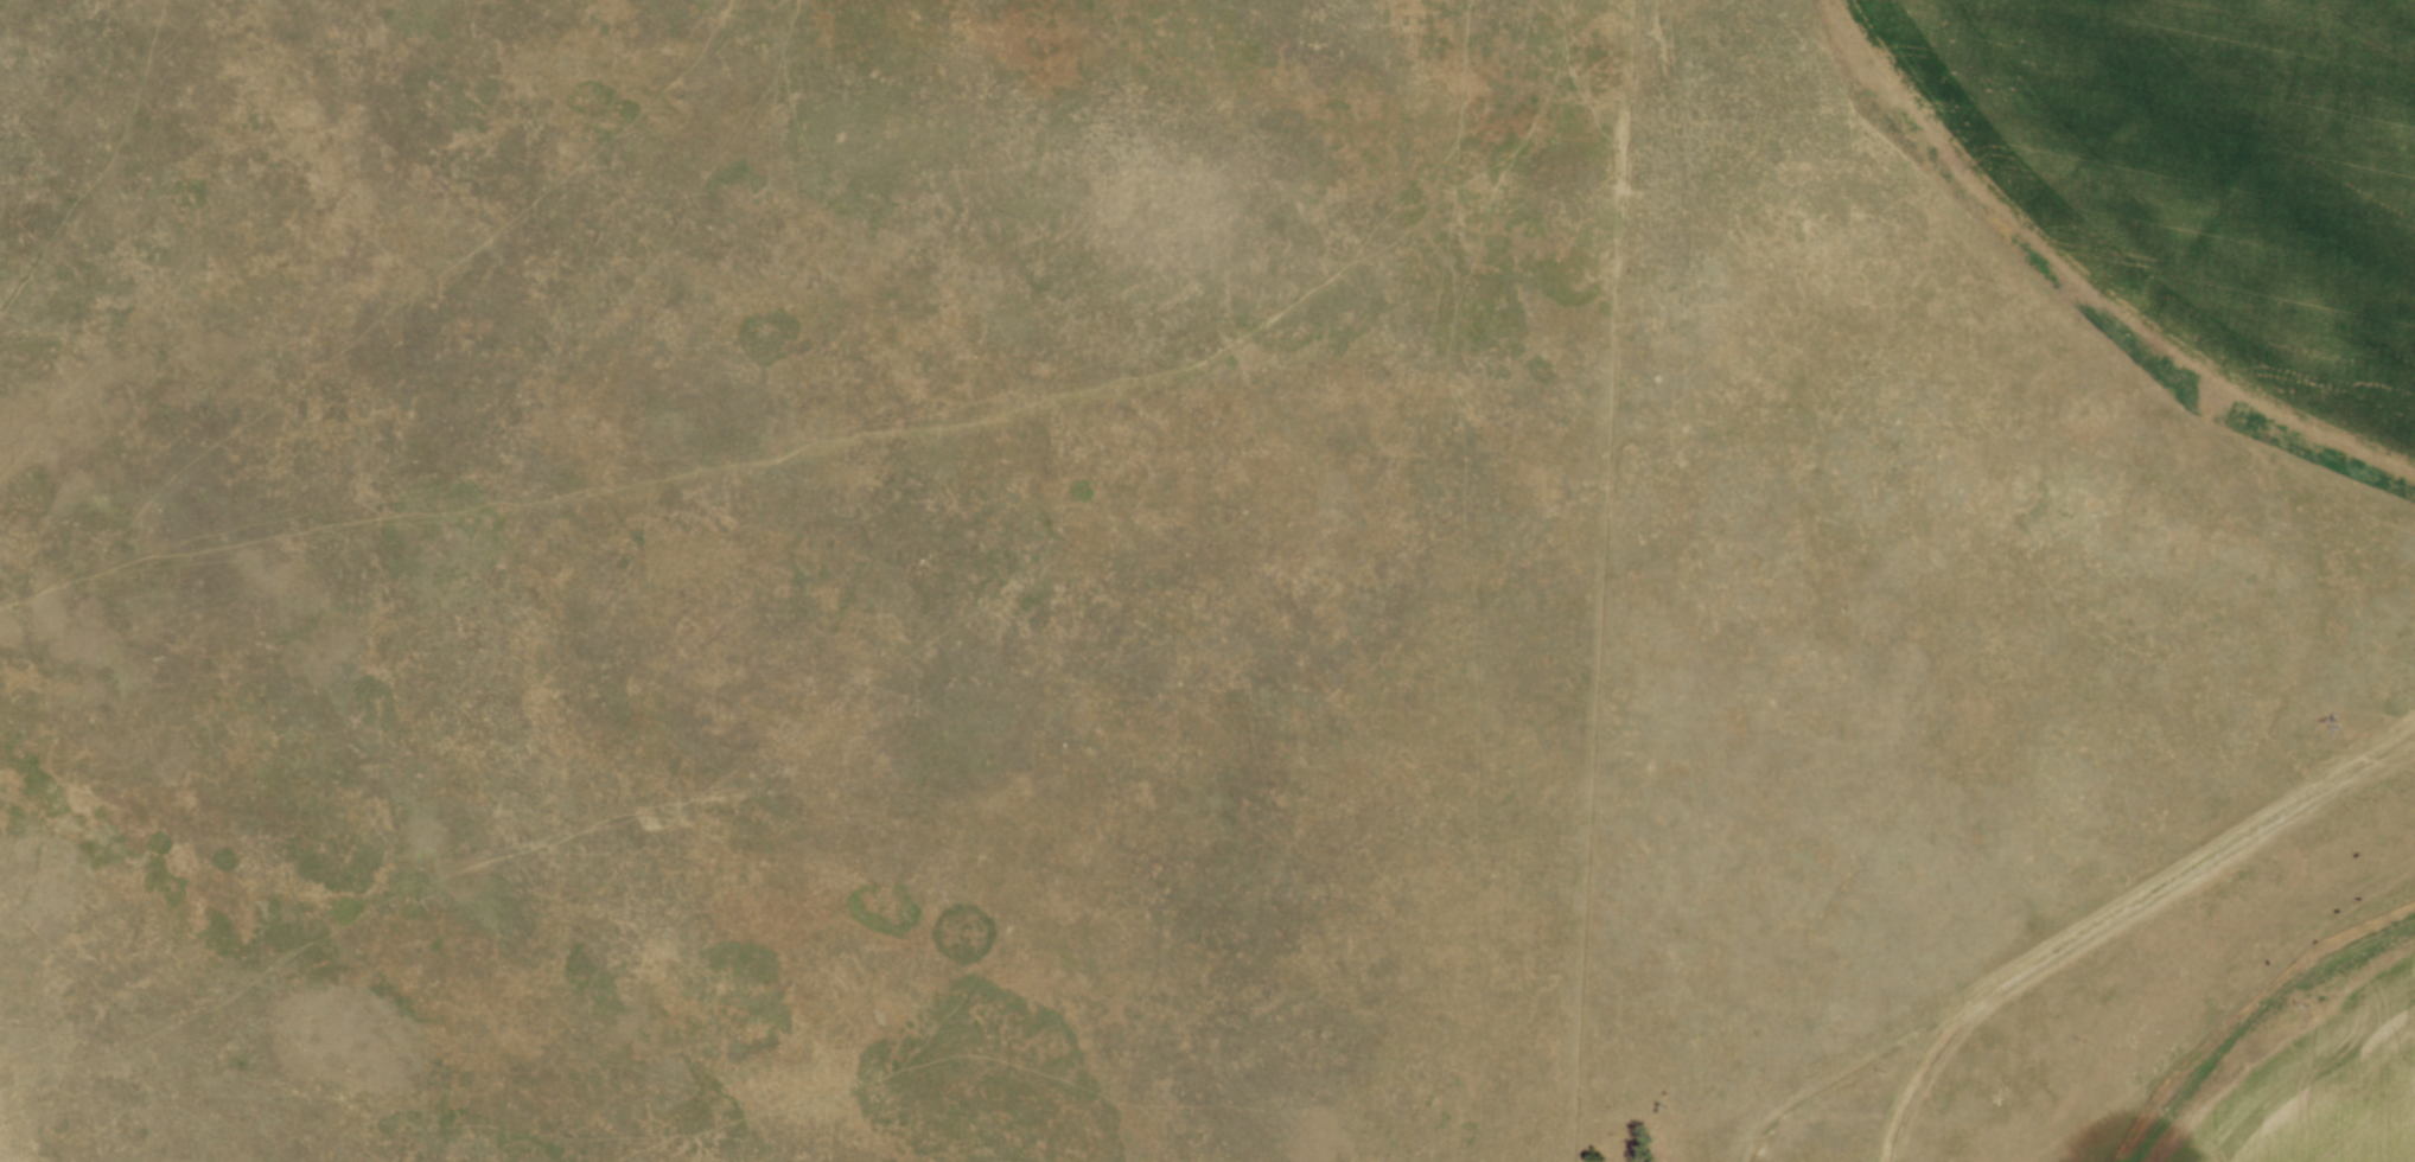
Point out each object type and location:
crop: (2206, 170)
crop: (2312, 1080)

